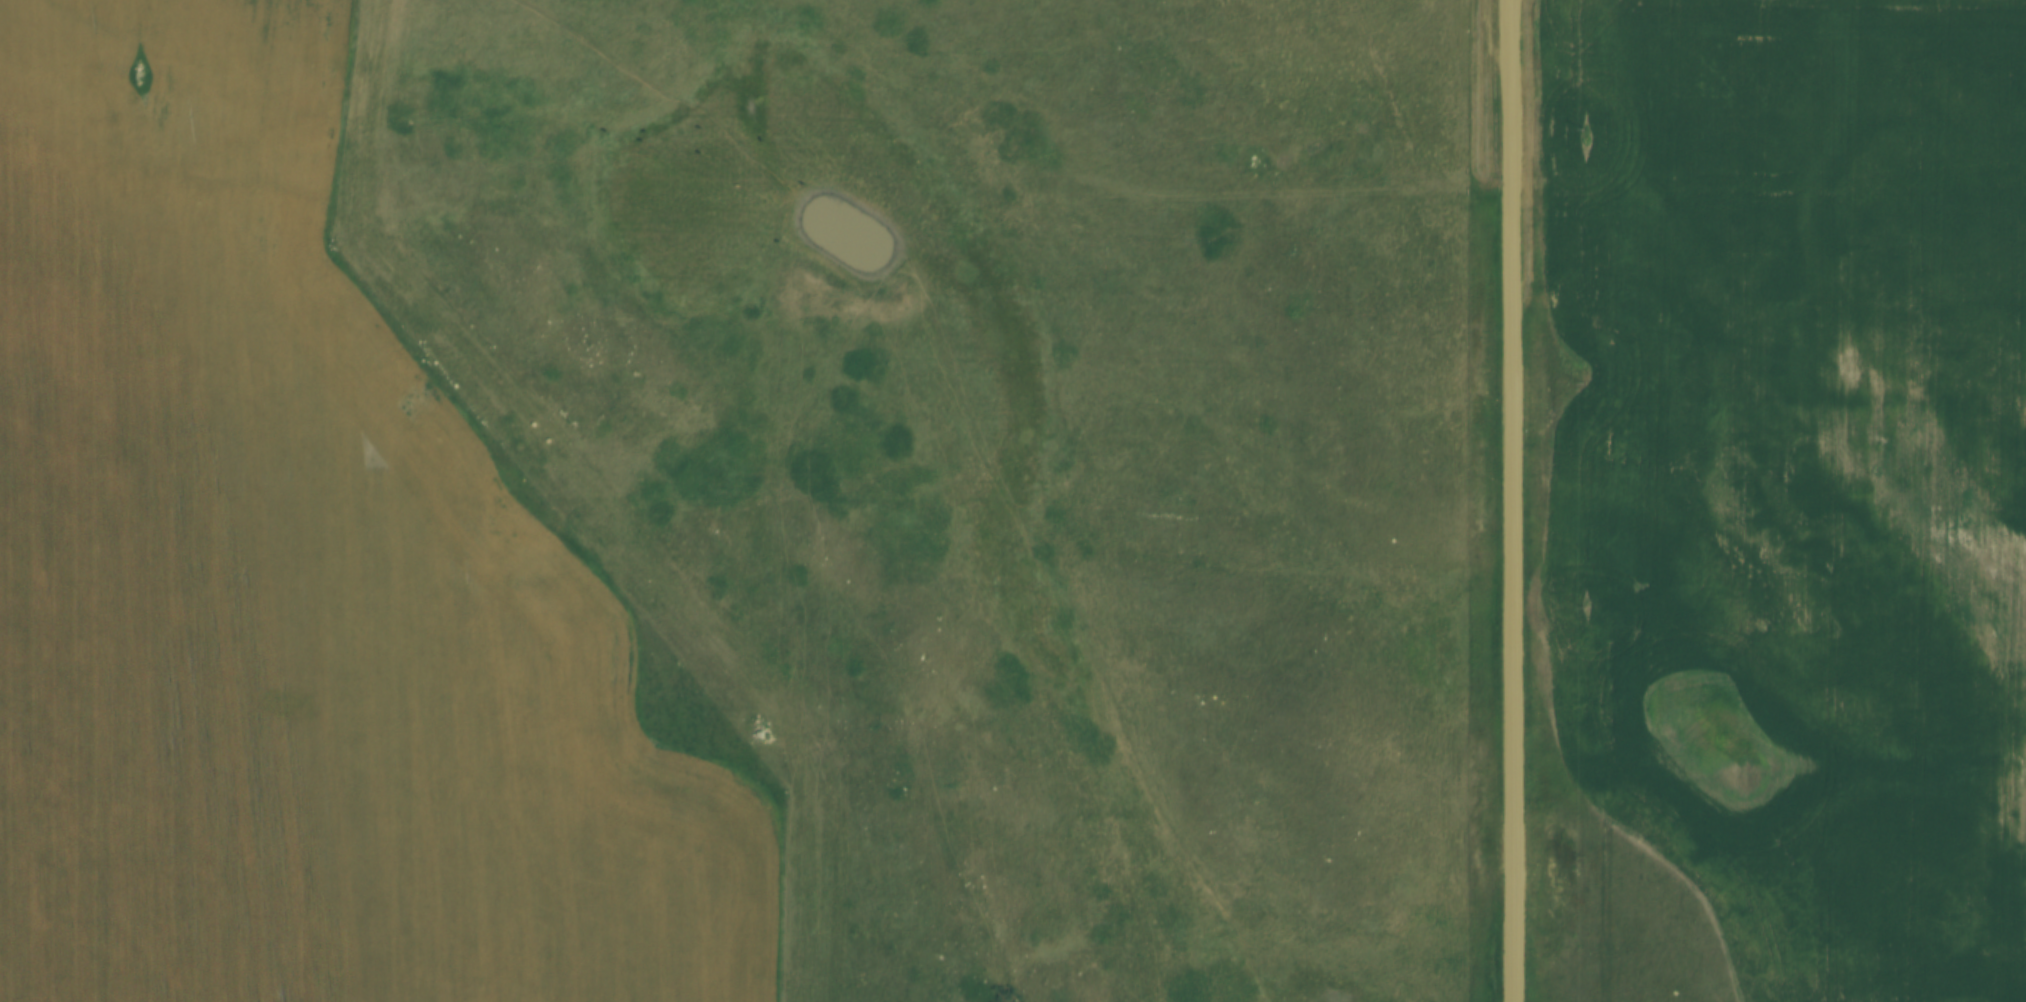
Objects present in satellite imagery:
road: (1513, 500)

